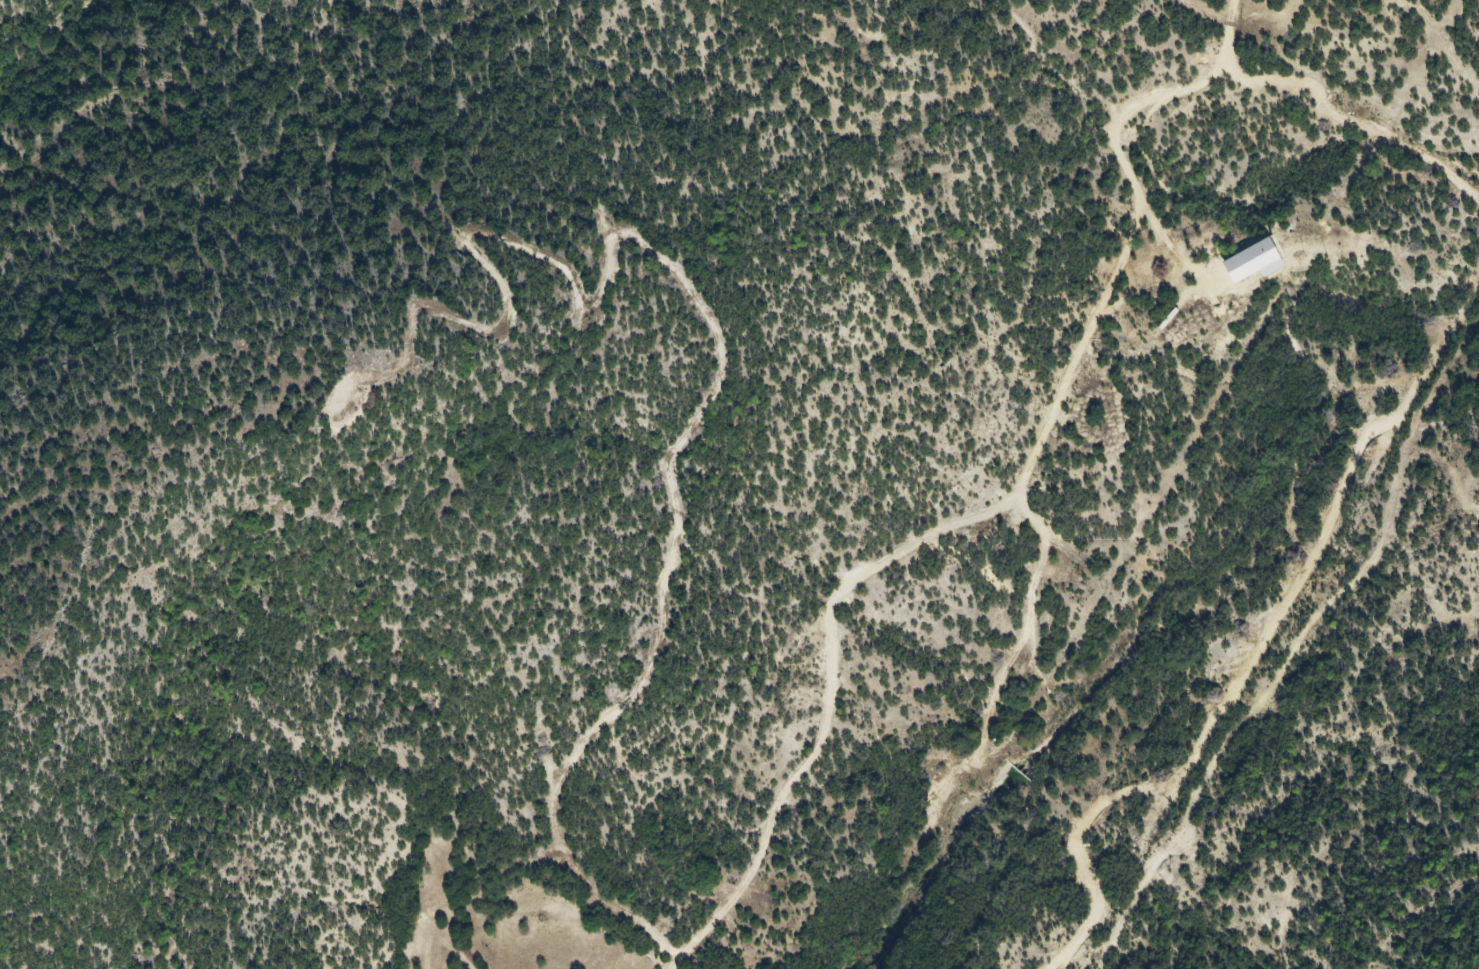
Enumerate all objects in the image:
road: (995, 505)

